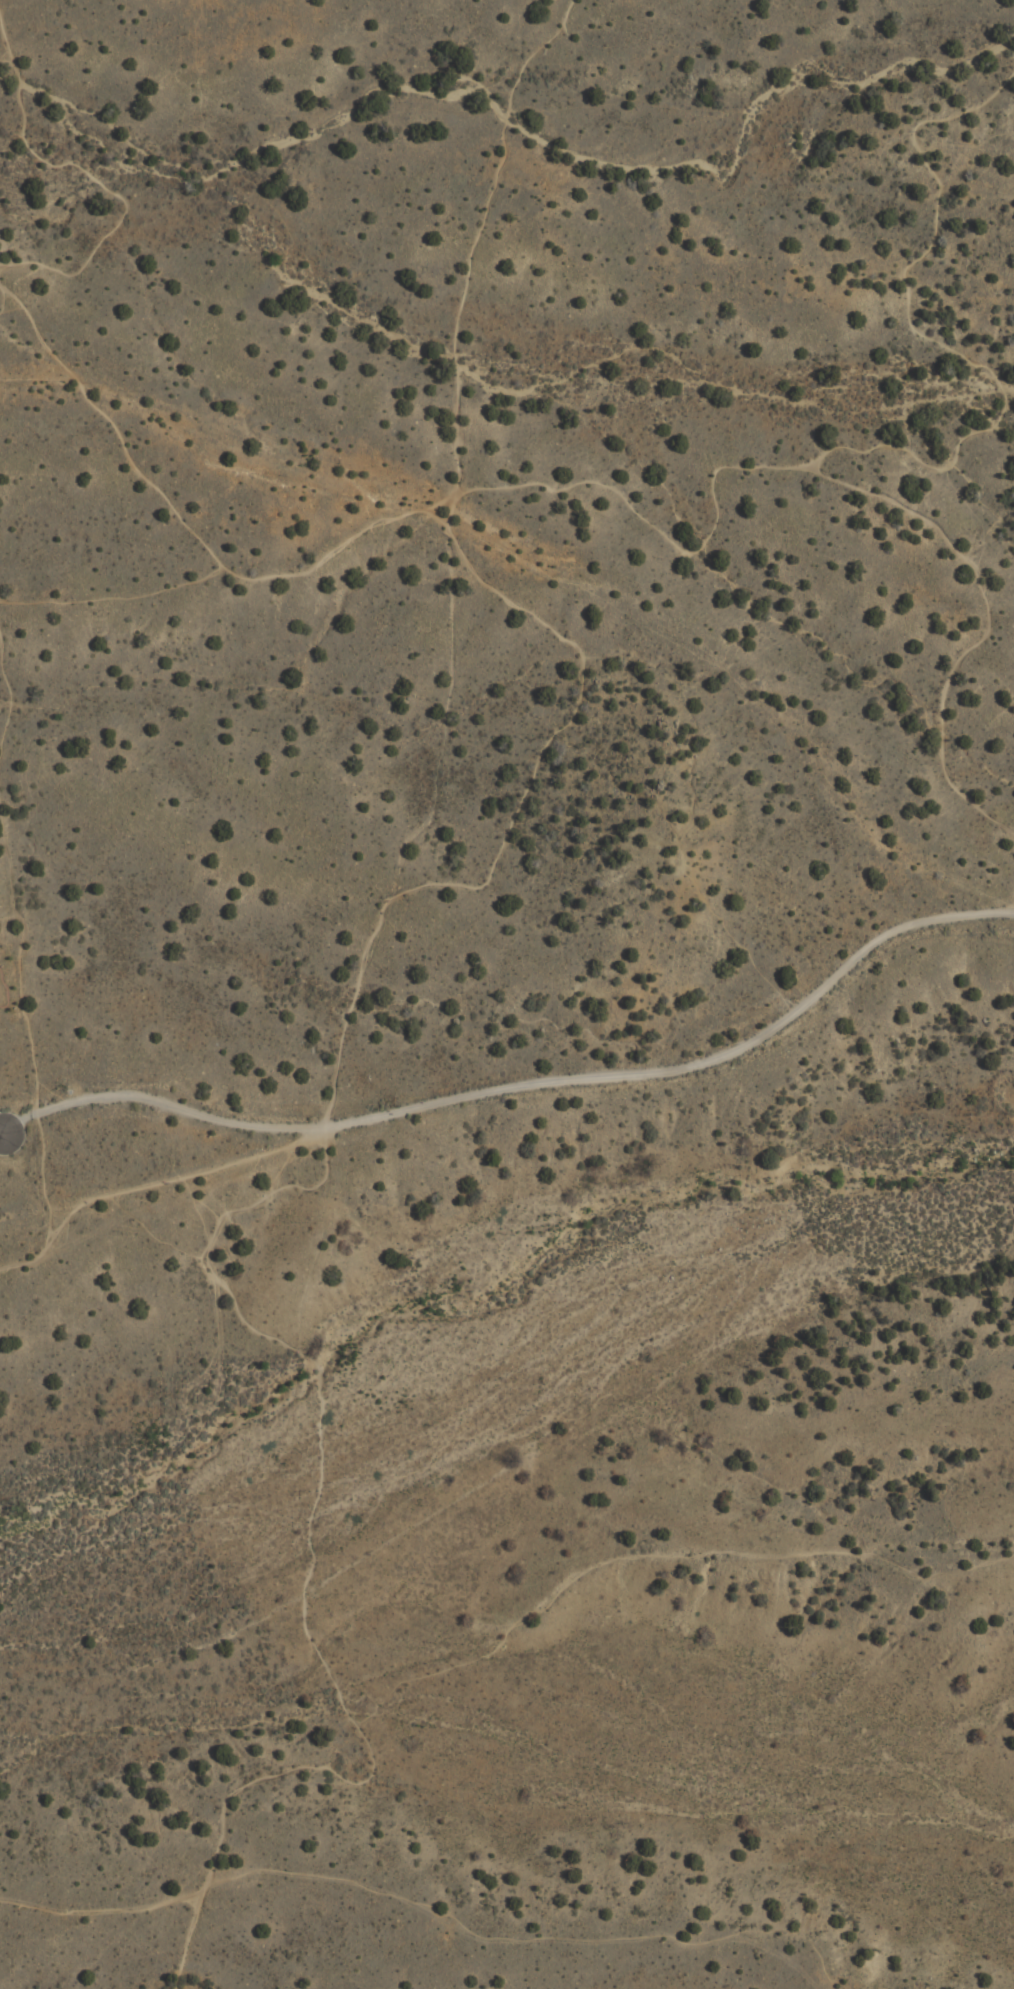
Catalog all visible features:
park: (510, 70)
road: (990, 125)
road: (93, 180)
road: (477, 237)
road: (11, 314)
road: (930, 340)
road: (838, 481)
road: (448, 514)
road: (123, 592)
road: (565, 729)
road: (35, 910)
road: (523, 1085)
road: (145, 1187)
road: (312, 1370)
road: (443, 1672)
road: (526, 1931)
road: (191, 1938)

